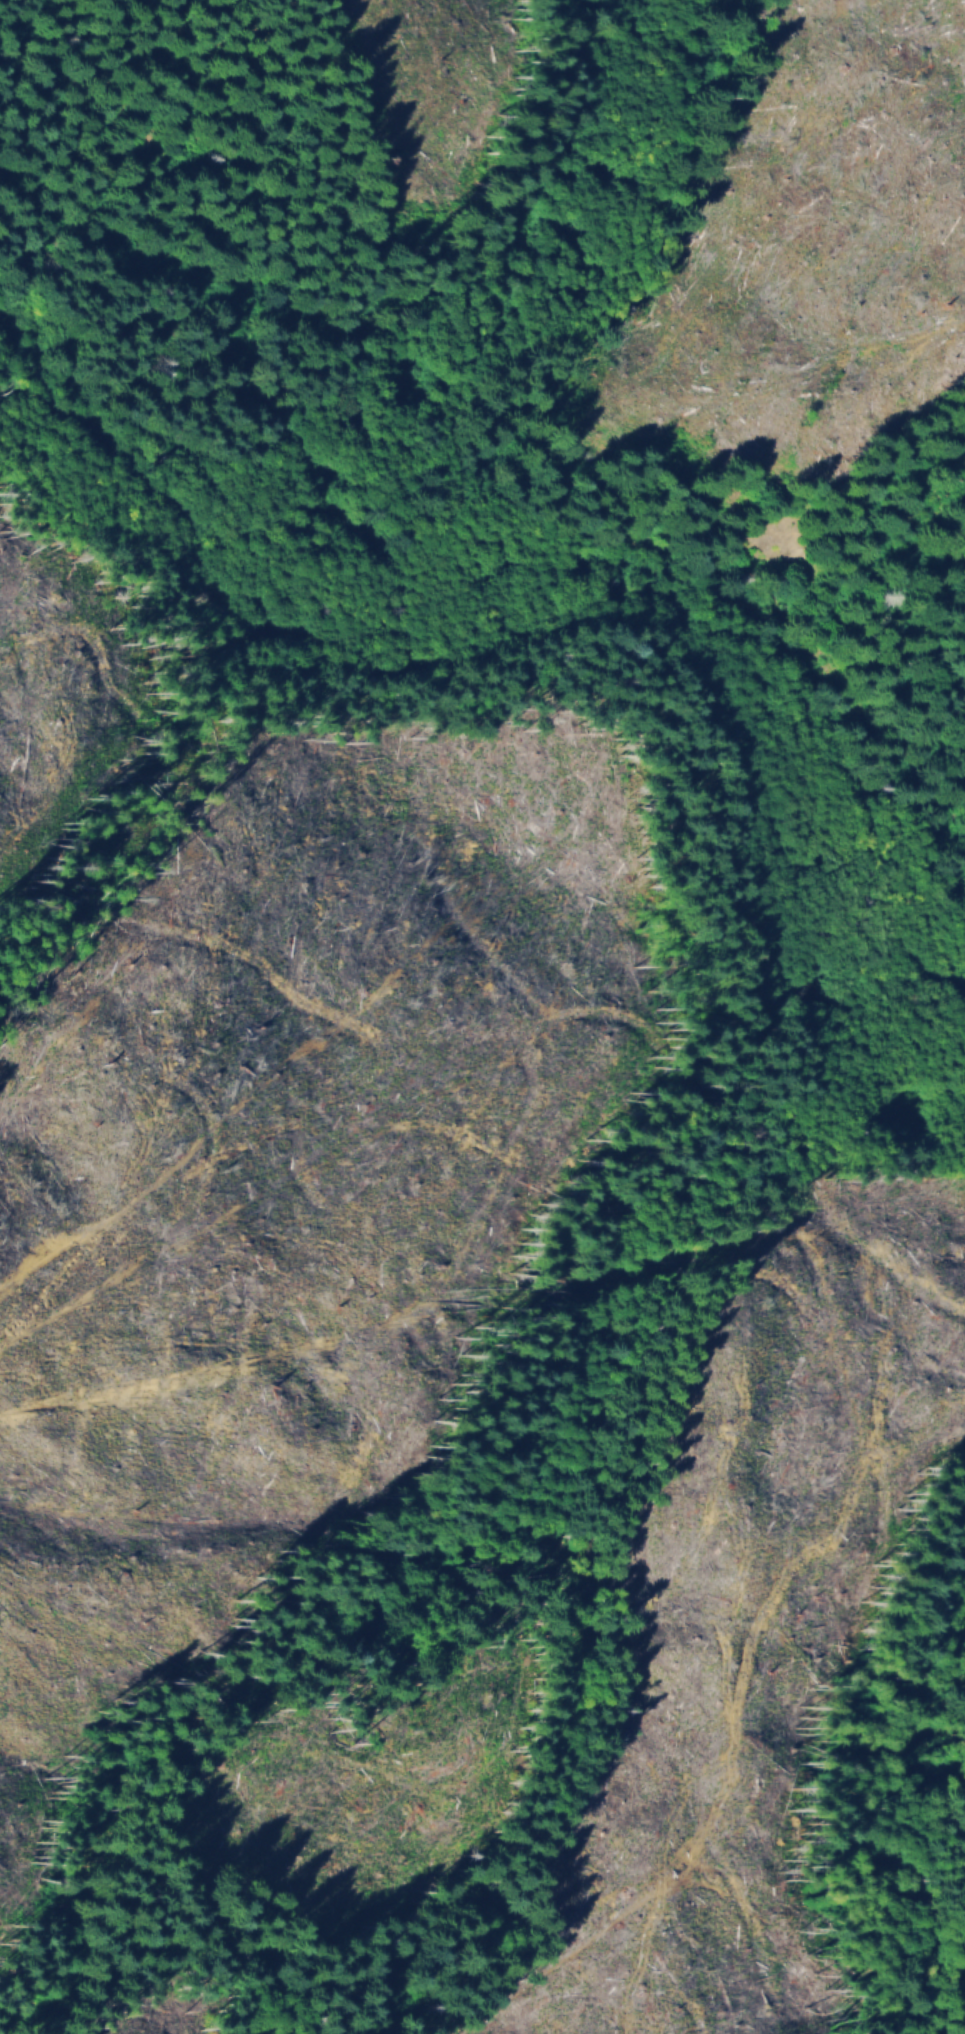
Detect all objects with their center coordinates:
road: (514, 451)
road: (681, 541)
river: (559, 580)

